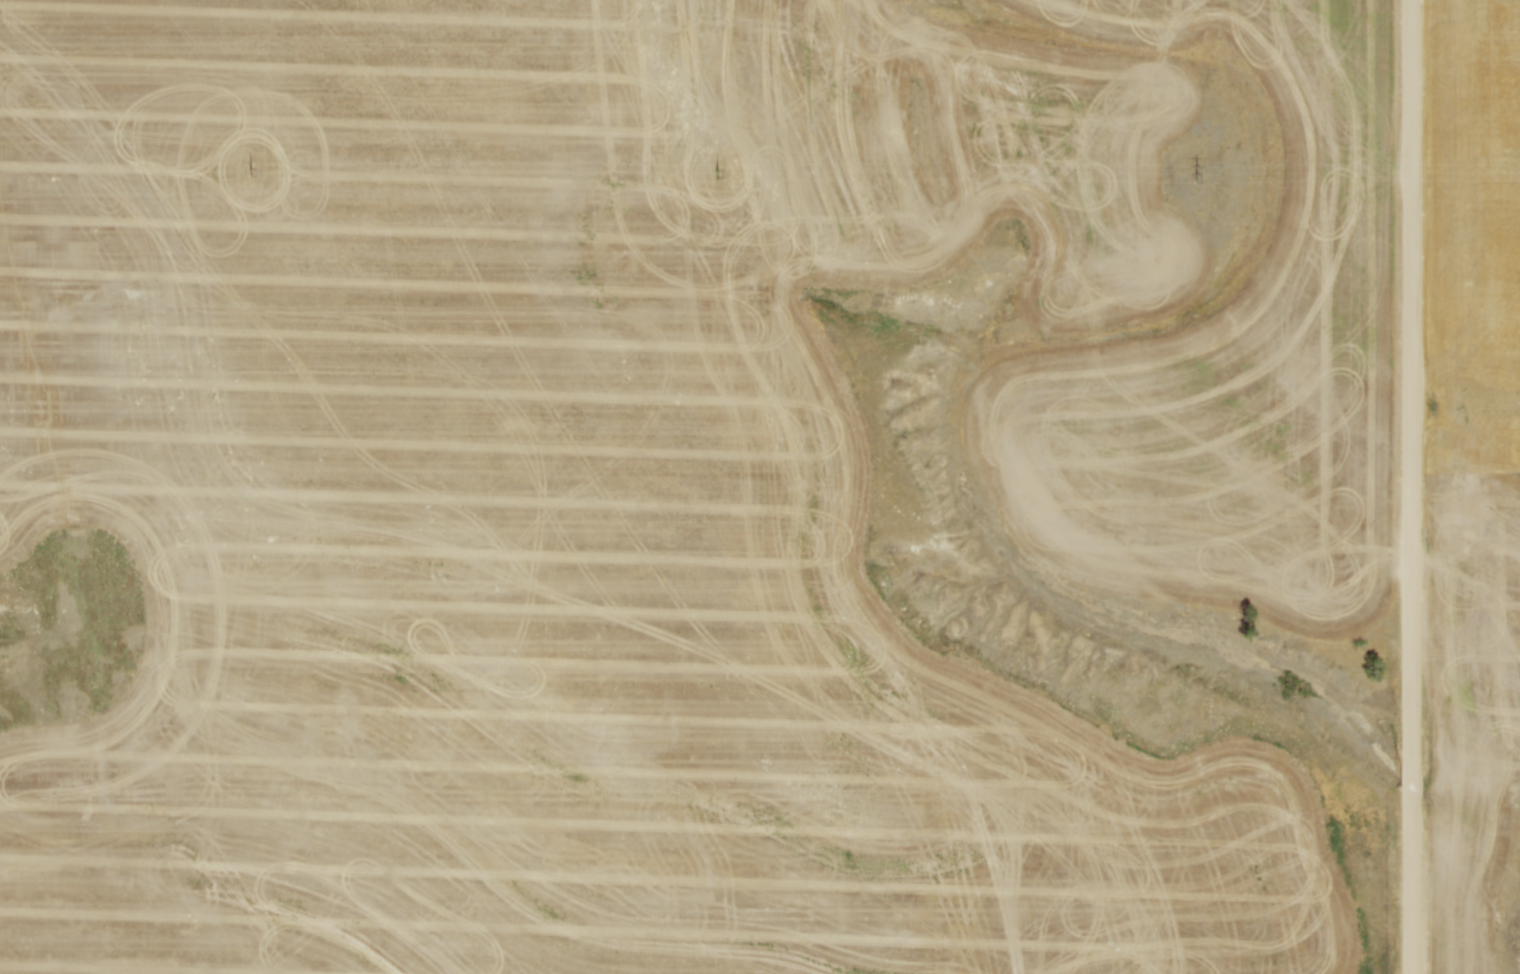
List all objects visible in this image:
power tower: (252, 172)
power tower: (718, 174)
power tower: (1196, 174)
road: (1412, 383)
crop: (1472, 457)
crop: (566, 502)
dam: (13, 649)
road: (1410, 782)
road: (1410, 886)

